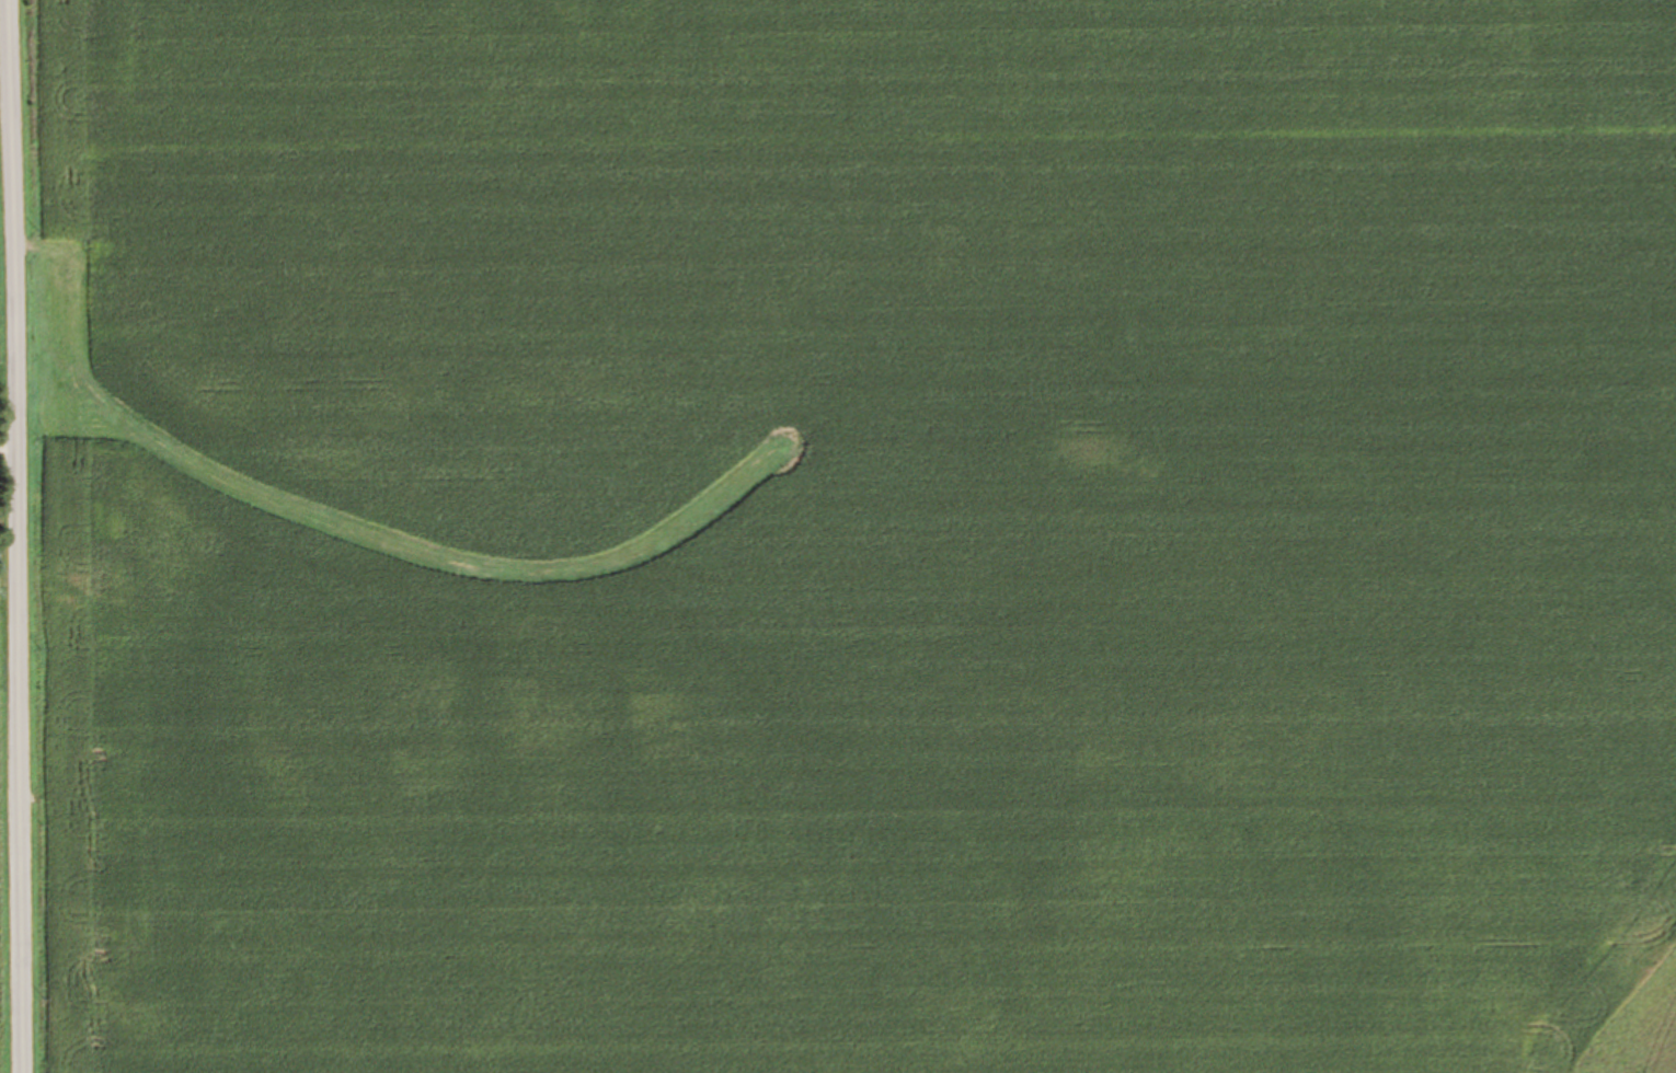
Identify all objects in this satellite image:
road: (18, 536)

